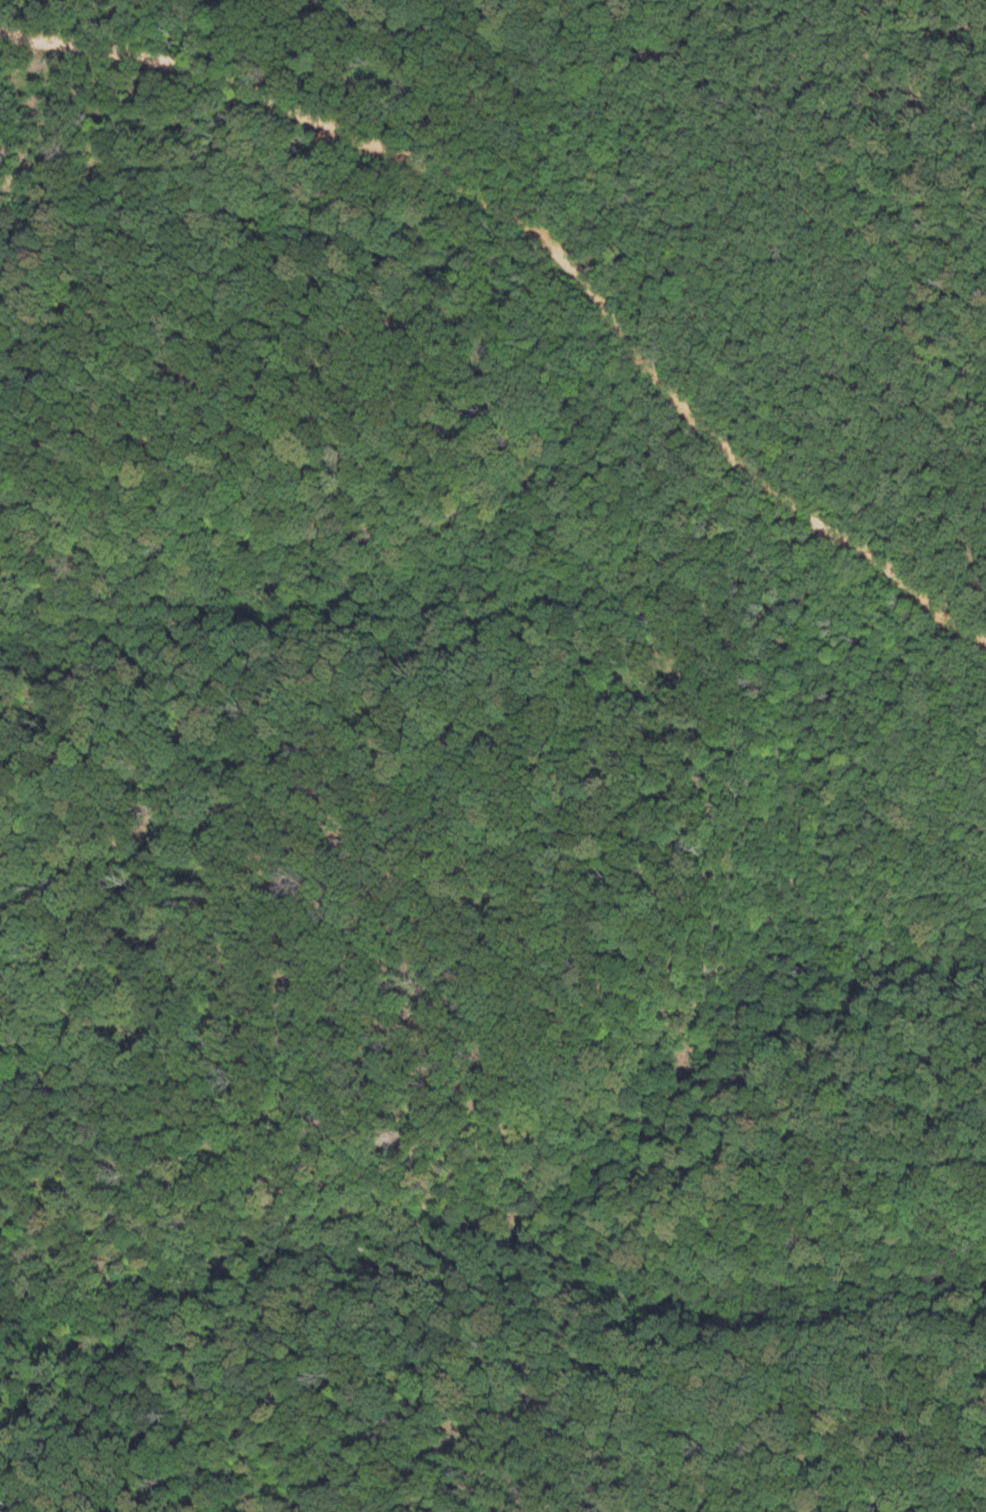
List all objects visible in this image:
road: (545, 245)

